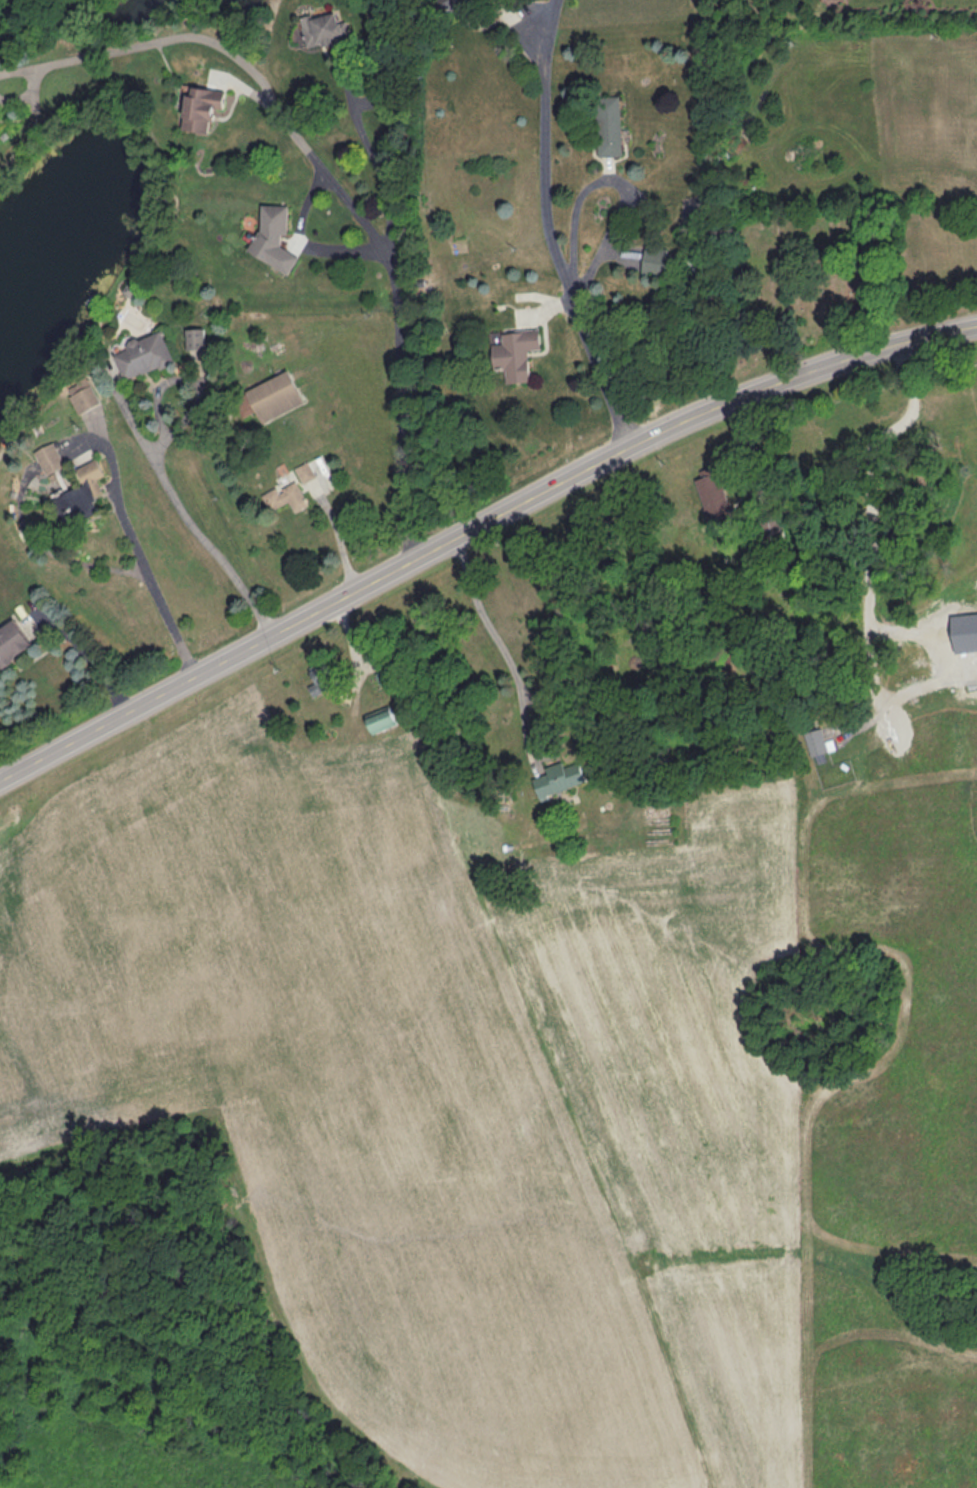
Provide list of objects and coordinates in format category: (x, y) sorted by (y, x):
building: (450, 4)
building: (322, 29)
building: (202, 108)
building: (609, 126)
road: (381, 155)
road: (336, 172)
road: (579, 215)
road: (554, 228)
building: (274, 238)
building: (655, 262)
park: (796, 281)
building: (516, 354)
building: (144, 356)
road: (804, 371)
building: (84, 396)
building: (275, 397)
building: (50, 459)
building: (90, 473)
building: (306, 473)
building: (714, 497)
building: (287, 498)
road: (530, 499)
building: (70, 502)
road: (195, 517)
road: (339, 535)
road: (139, 552)
building: (12, 644)
road: (90, 668)
road: (210, 669)
building: (322, 682)
road: (532, 691)
building: (381, 721)
building: (816, 743)
building: (560, 779)
crop: (341, 1088)

